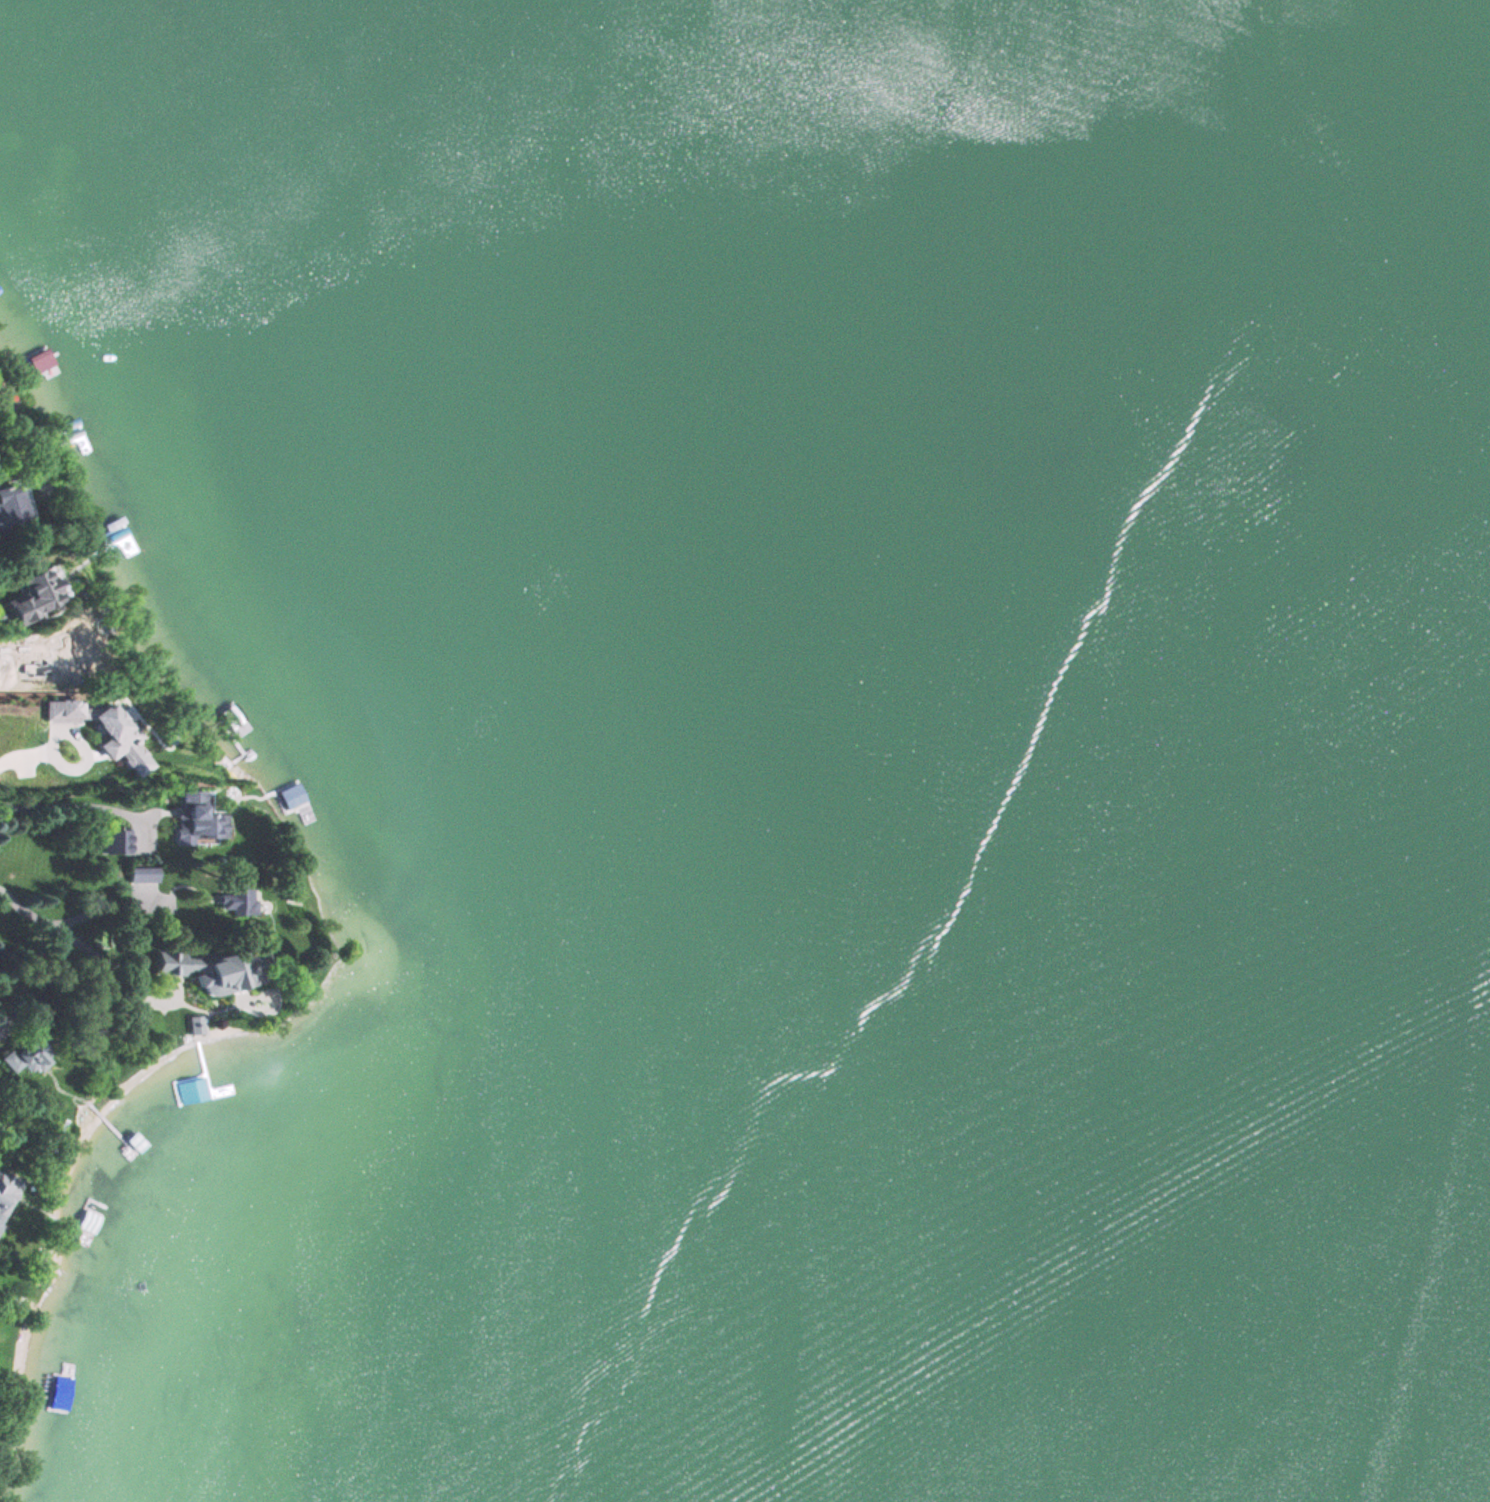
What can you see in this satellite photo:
building: (40, 363)
building: (12, 507)
building: (38, 597)
building: (143, 872)
building: (239, 912)
building: (211, 971)
building: (195, 1024)
building: (27, 1056)
building: (6, 1194)

